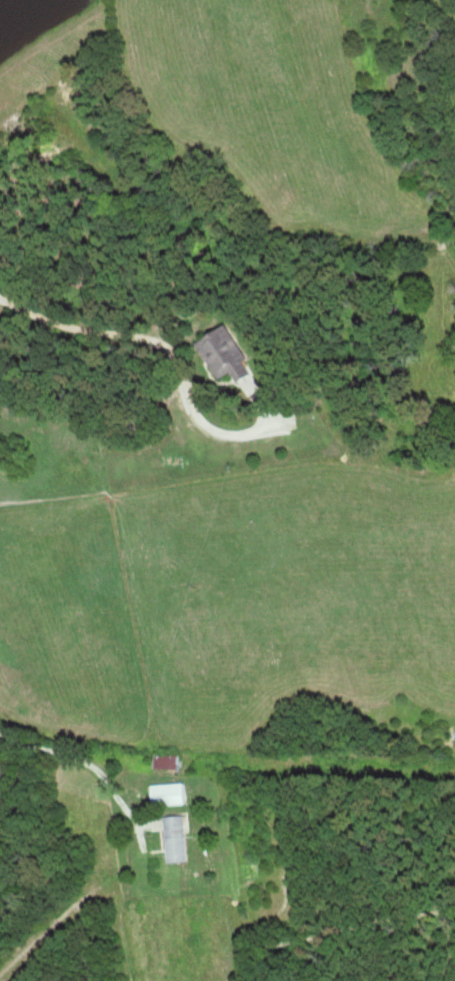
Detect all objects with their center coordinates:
building: (228, 357)
road: (227, 461)
building: (168, 761)
building: (170, 795)
building: (177, 840)
road: (61, 857)

